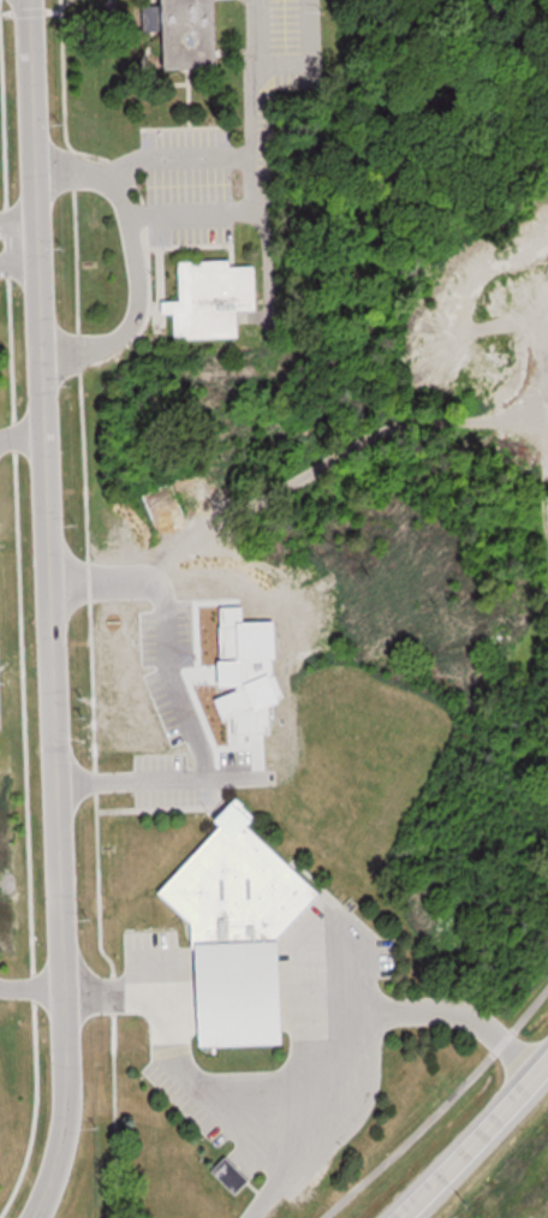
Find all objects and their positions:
building: (197, 35)
road: (214, 154)
road: (226, 210)
road: (18, 218)
road: (19, 260)
road: (138, 297)
building: (214, 298)
road: (23, 435)
road: (107, 578)
road: (49, 611)
road: (160, 782)
building: (243, 928)
road: (31, 990)
road: (374, 1017)
road: (197, 1091)
road: (440, 1105)
road: (472, 1139)
building: (233, 1176)

